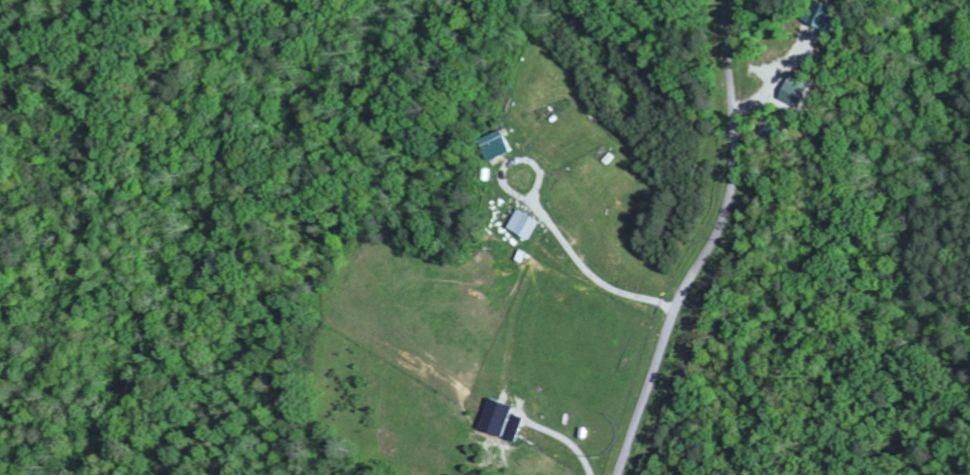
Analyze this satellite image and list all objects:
building: (800, 88)
building: (504, 144)
building: (529, 224)
road: (714, 244)
building: (503, 416)

